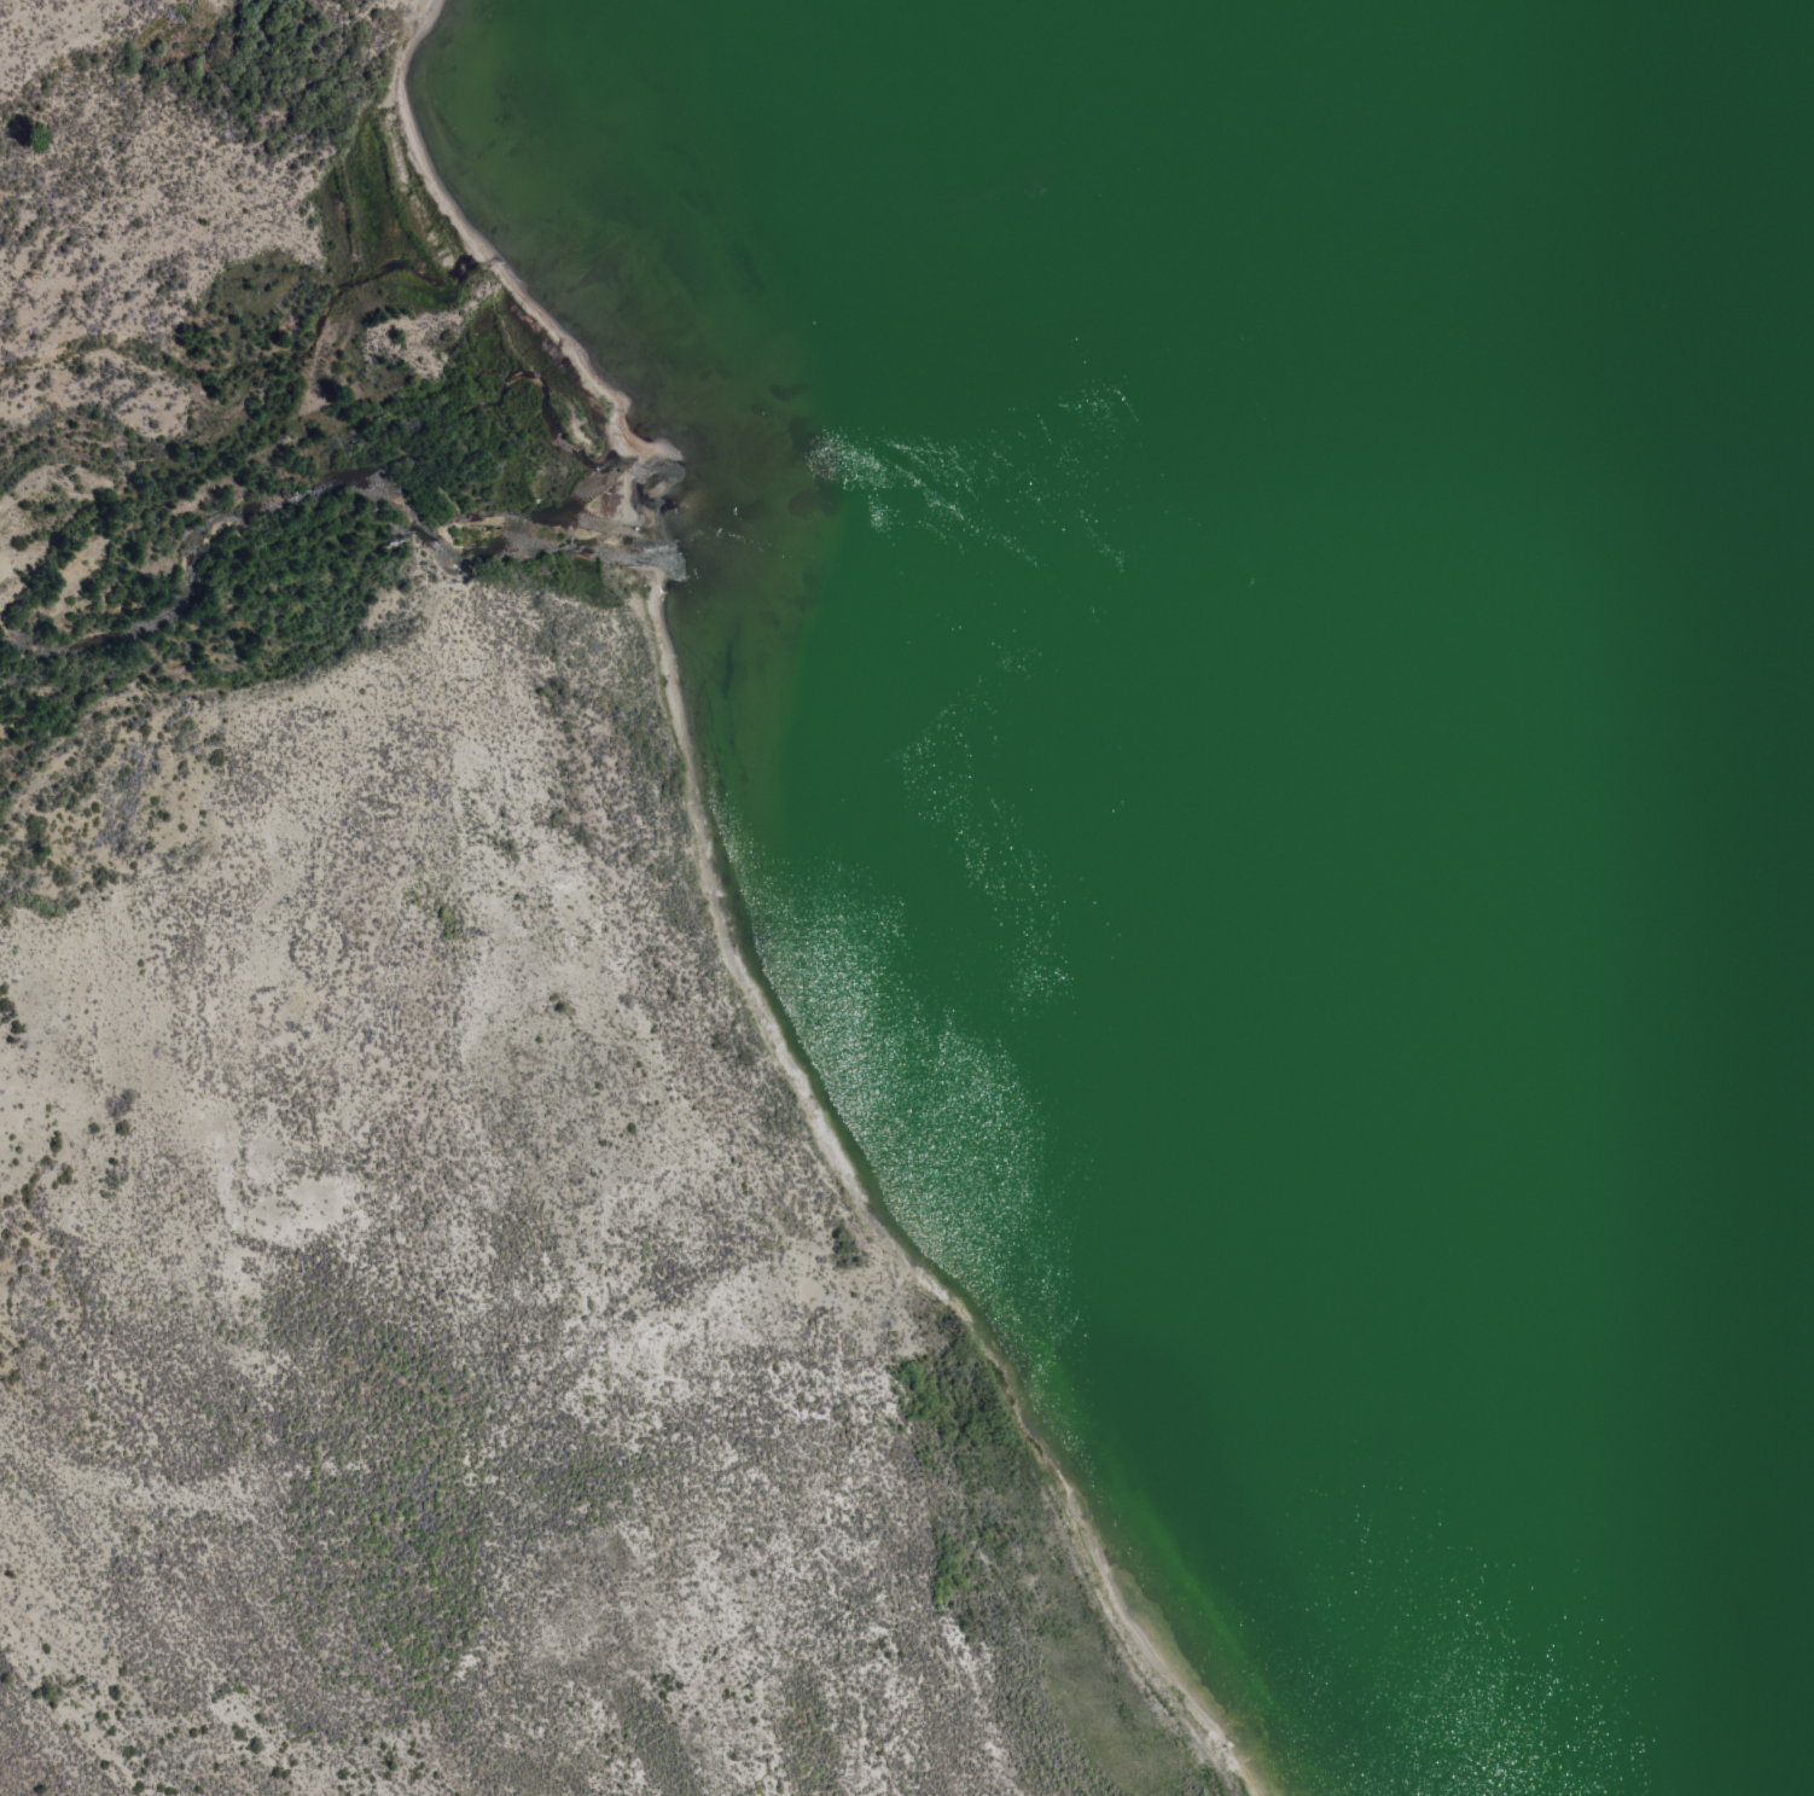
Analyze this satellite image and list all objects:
road: (47, 35)

